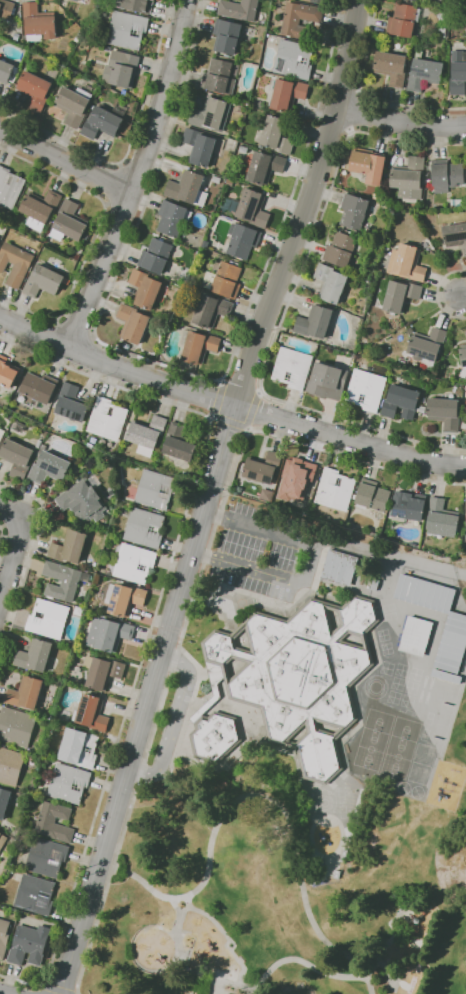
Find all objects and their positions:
building: (77, 0)
building: (416, 0)
building: (319, 1)
building: (136, 5)
building: (7, 9)
building: (238, 9)
building: (299, 19)
building: (403, 20)
building: (441, 20)
building: (39, 22)
building: (465, 26)
building: (4, 30)
building: (128, 30)
building: (442, 33)
building: (17, 37)
building: (226, 37)
building: (293, 59)
building: (81, 66)
building: (122, 68)
building: (391, 68)
building: (8, 71)
building: (424, 73)
building: (458, 73)
building: (219, 76)
building: (35, 90)
road: (342, 93)
building: (287, 94)
road: (366, 95)
building: (256, 104)
building: (74, 105)
road: (357, 113)
building: (209, 114)
road: (400, 120)
building: (102, 123)
road: (332, 125)
building: (277, 135)
road: (129, 146)
building: (200, 147)
road: (65, 161)
building: (367, 165)
building: (265, 167)
building: (446, 175)
road: (136, 176)
building: (408, 178)
building: (217, 179)
building: (230, 182)
road: (112, 183)
building: (10, 187)
building: (188, 188)
building: (456, 203)
building: (40, 208)
building: (251, 208)
building: (390, 209)
building: (354, 211)
building: (173, 217)
building: (69, 222)
building: (455, 235)
road: (94, 236)
building: (243, 239)
building: (206, 244)
building: (424, 245)
building: (341, 249)
building: (156, 256)
building: (407, 262)
building: (16, 263)
building: (224, 279)
building: (43, 281)
building: (331, 283)
building: (145, 289)
building: (397, 294)
road: (436, 294)
road: (464, 301)
road: (287, 307)
building: (211, 310)
building: (315, 322)
building: (134, 323)
road: (76, 327)
building: (198, 345)
building: (427, 347)
building: (463, 356)
building: (292, 367)
road: (178, 369)
building: (8, 372)
building: (327, 380)
road: (221, 382)
building: (38, 389)
building: (366, 390)
road: (259, 391)
road: (218, 399)
building: (402, 402)
building: (72, 403)
road: (229, 404)
road: (252, 409)
building: (10, 411)
building: (445, 413)
road: (211, 418)
building: (107, 419)
road: (229, 421)
building: (464, 425)
building: (19, 426)
road: (248, 430)
building: (1, 433)
building: (147, 435)
building: (180, 443)
building: (40, 444)
building: (17, 458)
building: (49, 468)
building: (263, 468)
building: (296, 479)
building: (156, 489)
building: (335, 489)
building: (373, 495)
road: (208, 496)
building: (84, 500)
building: (409, 505)
road: (214, 516)
building: (465, 518)
building: (442, 519)
building: (145, 528)
road: (1, 533)
building: (69, 547)
road: (16, 551)
road: (202, 555)
road: (30, 559)
building: (134, 562)
road: (311, 565)
building: (340, 567)
building: (64, 580)
building: (425, 593)
building: (123, 598)
road: (192, 603)
road: (155, 614)
building: (49, 618)
building: (109, 634)
building: (416, 636)
building: (452, 644)
building: (35, 655)
building: (102, 671)
building: (301, 674)
building: (446, 676)
building: (215, 689)
building: (26, 693)
building: (92, 714)
road: (173, 716)
park: (378, 721)
building: (16, 727)
park: (405, 728)
building: (215, 736)
building: (79, 748)
park: (370, 749)
park: (396, 756)
building: (11, 765)
building: (69, 783)
building: (4, 801)
building: (54, 821)
road: (287, 824)
building: (2, 840)
building: (344, 854)
building: (47, 857)
building: (36, 894)
road: (178, 896)
park: (280, 896)
building: (3, 906)
building: (4, 937)
building: (29, 944)
road: (239, 961)
road: (281, 961)
road: (355, 968)
road: (369, 986)
road: (58, 989)
road: (1, 993)

